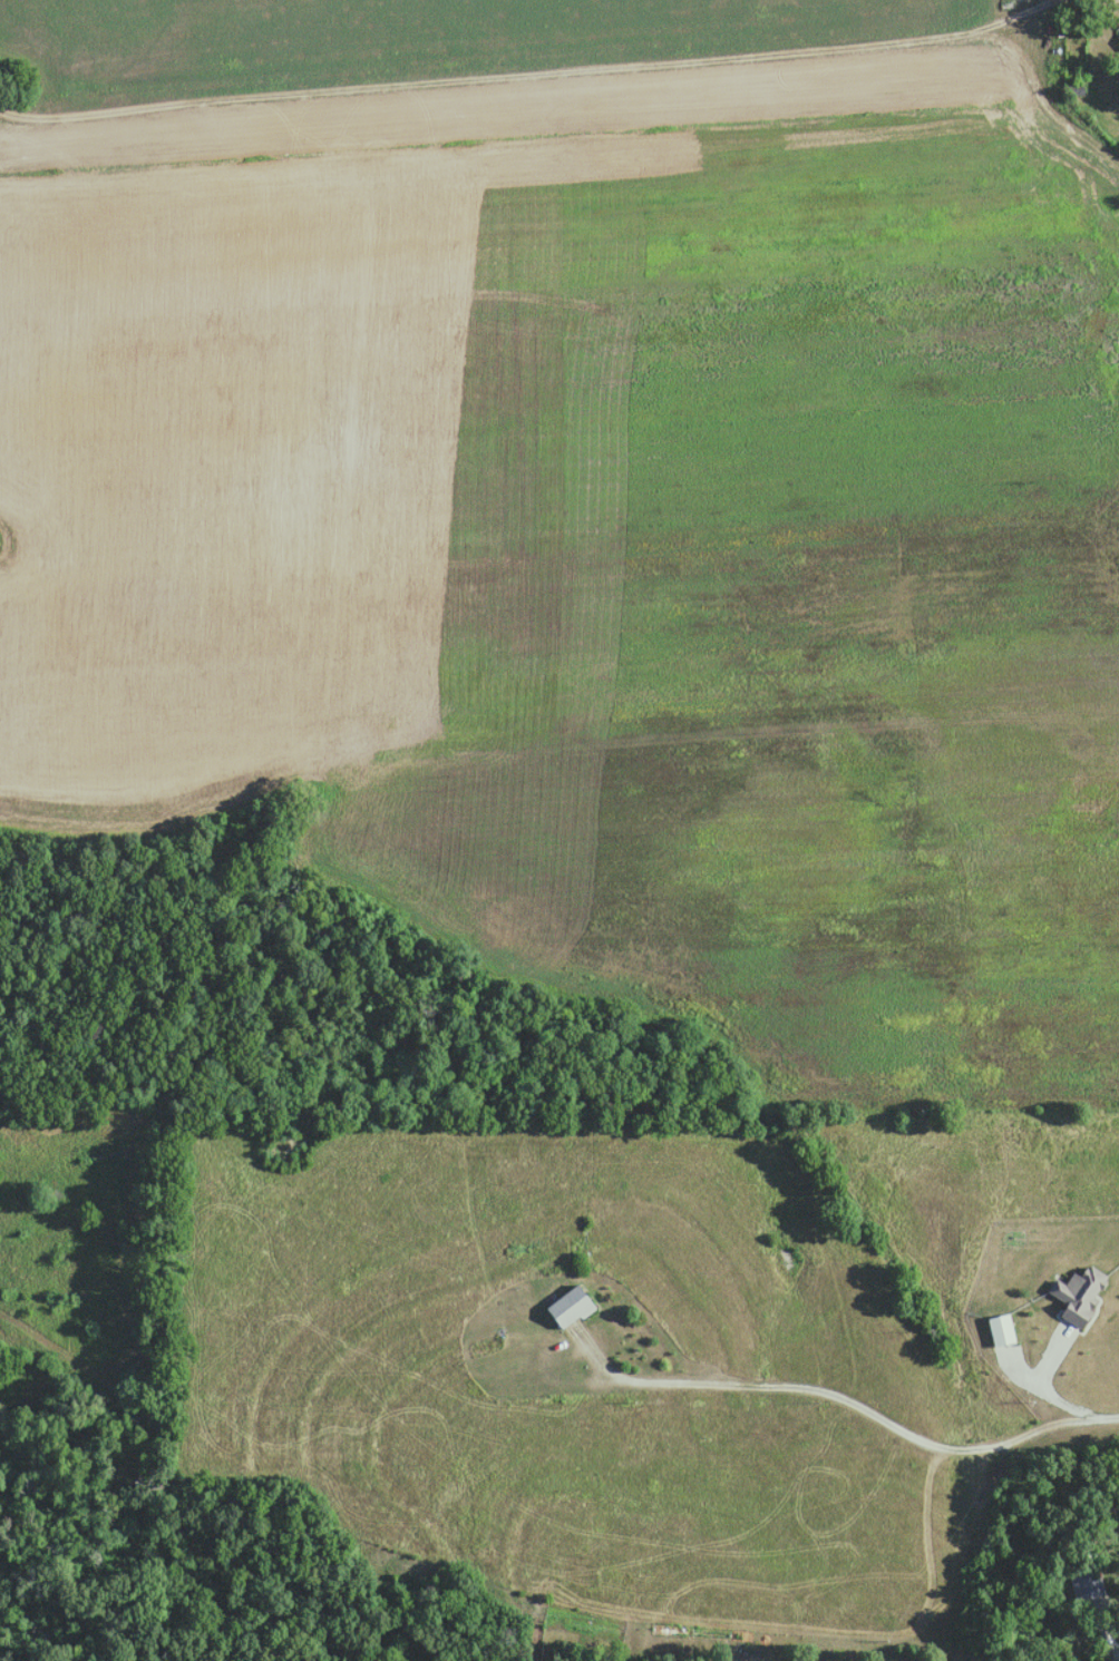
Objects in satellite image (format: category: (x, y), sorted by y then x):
road: (1040, 2)
building: (573, 1307)
building: (1002, 1330)
road: (845, 1401)
road: (1117, 1660)

